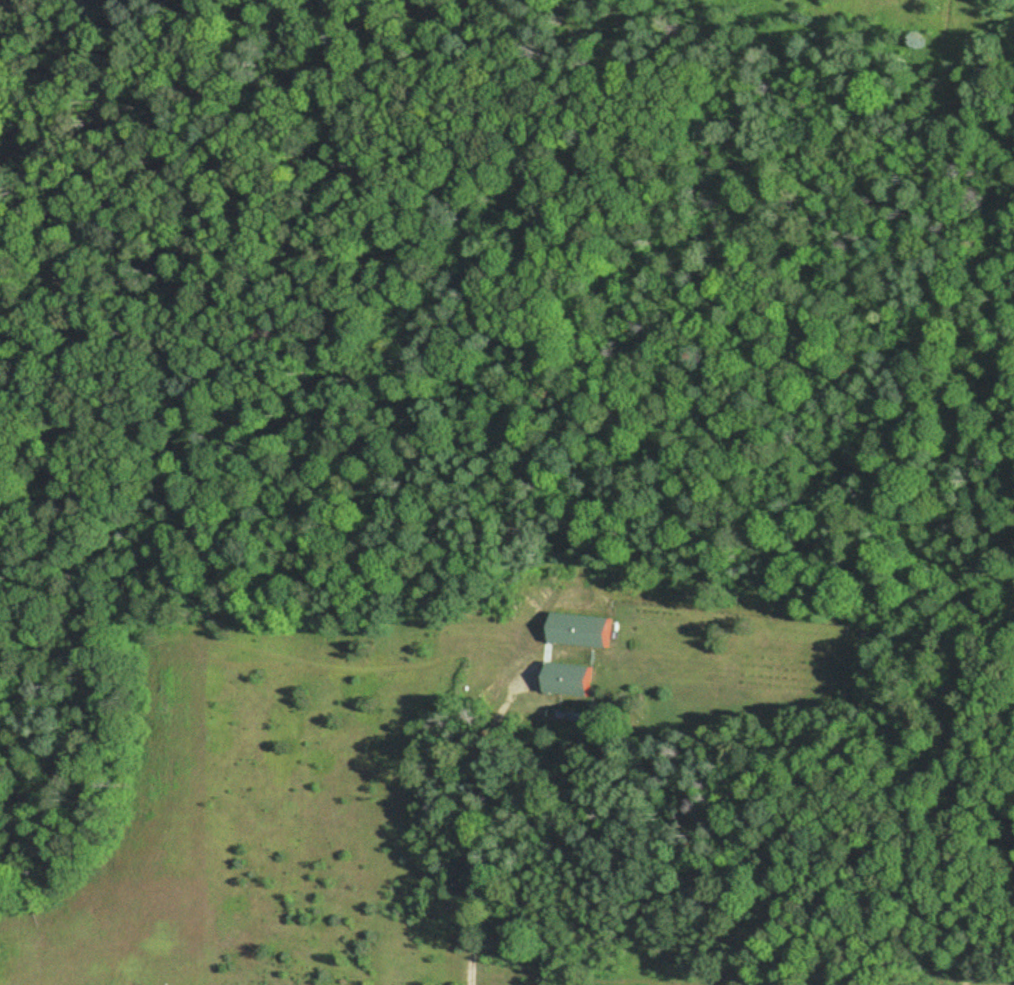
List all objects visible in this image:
building: (563, 678)

